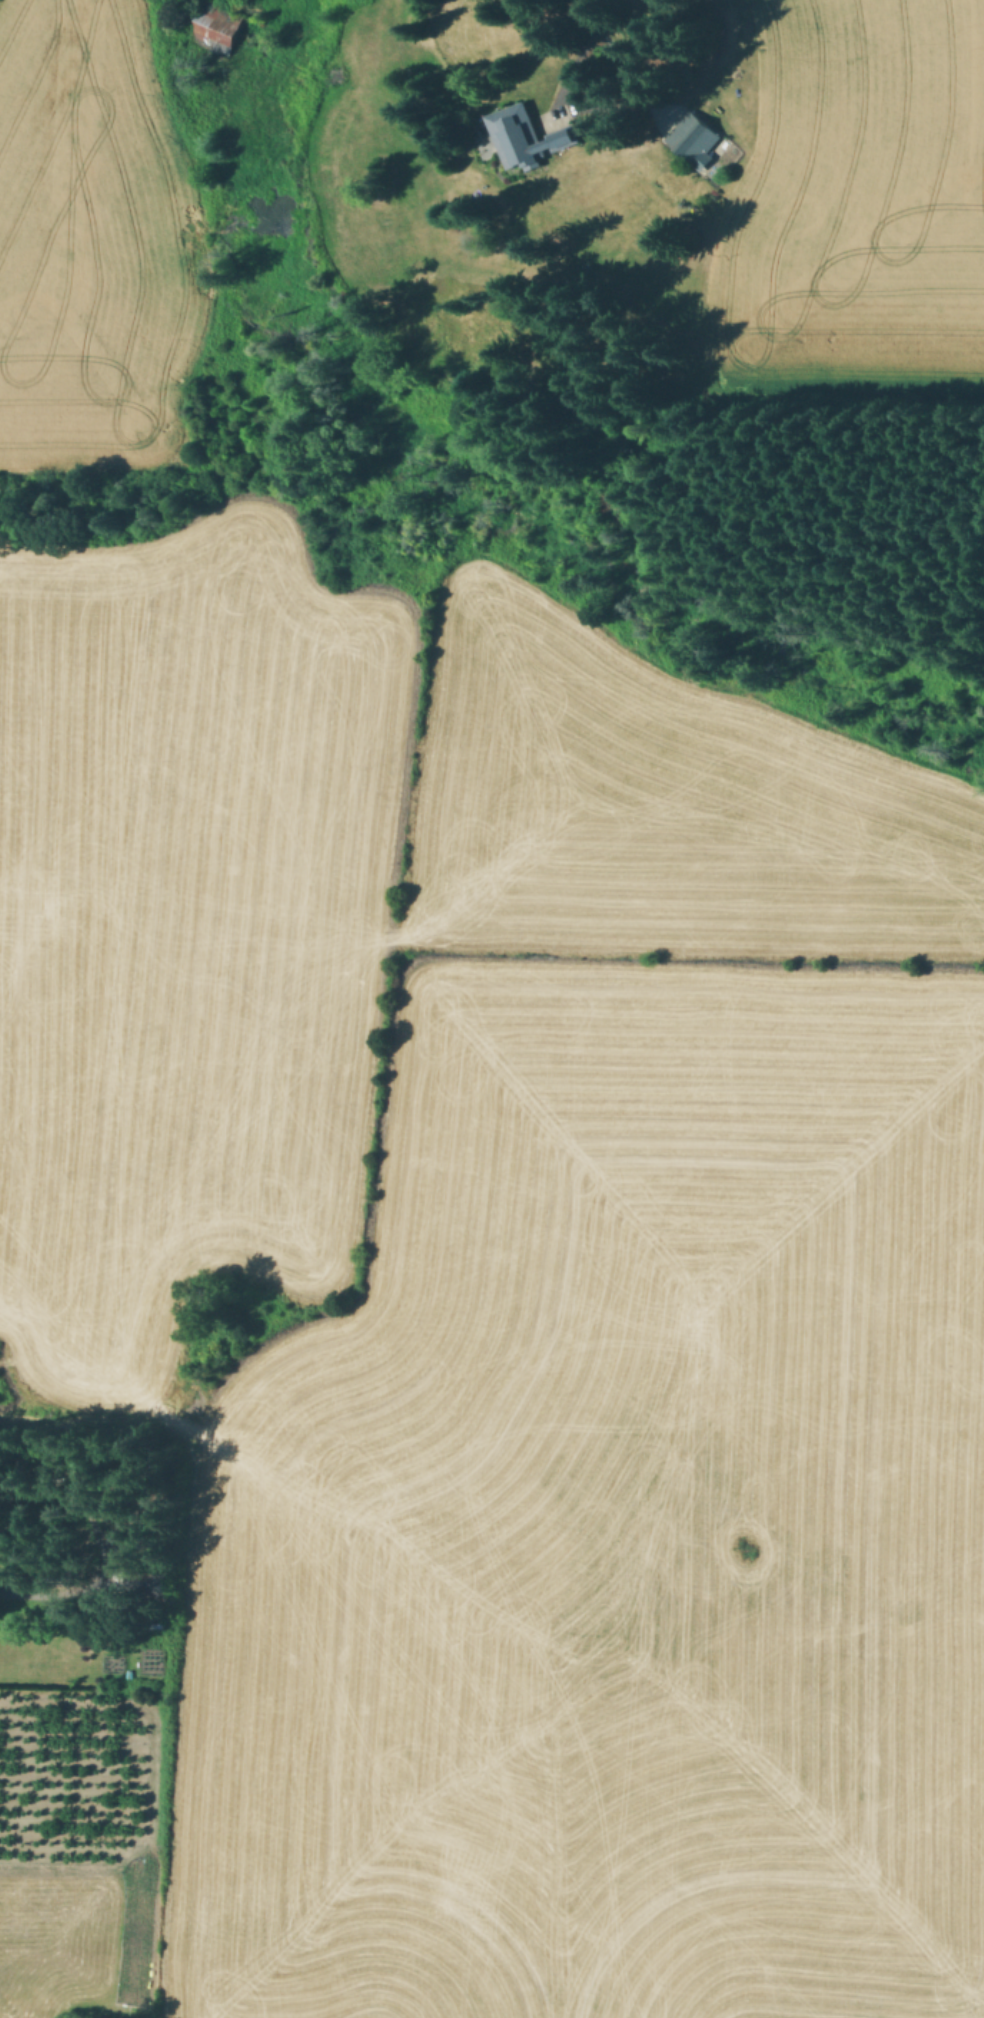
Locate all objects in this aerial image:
building: (218, 27)
road: (603, 74)
road: (633, 84)
building: (528, 137)
building: (696, 138)
crop: (854, 202)
crop: (92, 240)
crop: (664, 804)
crop: (184, 928)
crop: (612, 1529)
road: (8, 1572)
building: (154, 1582)

